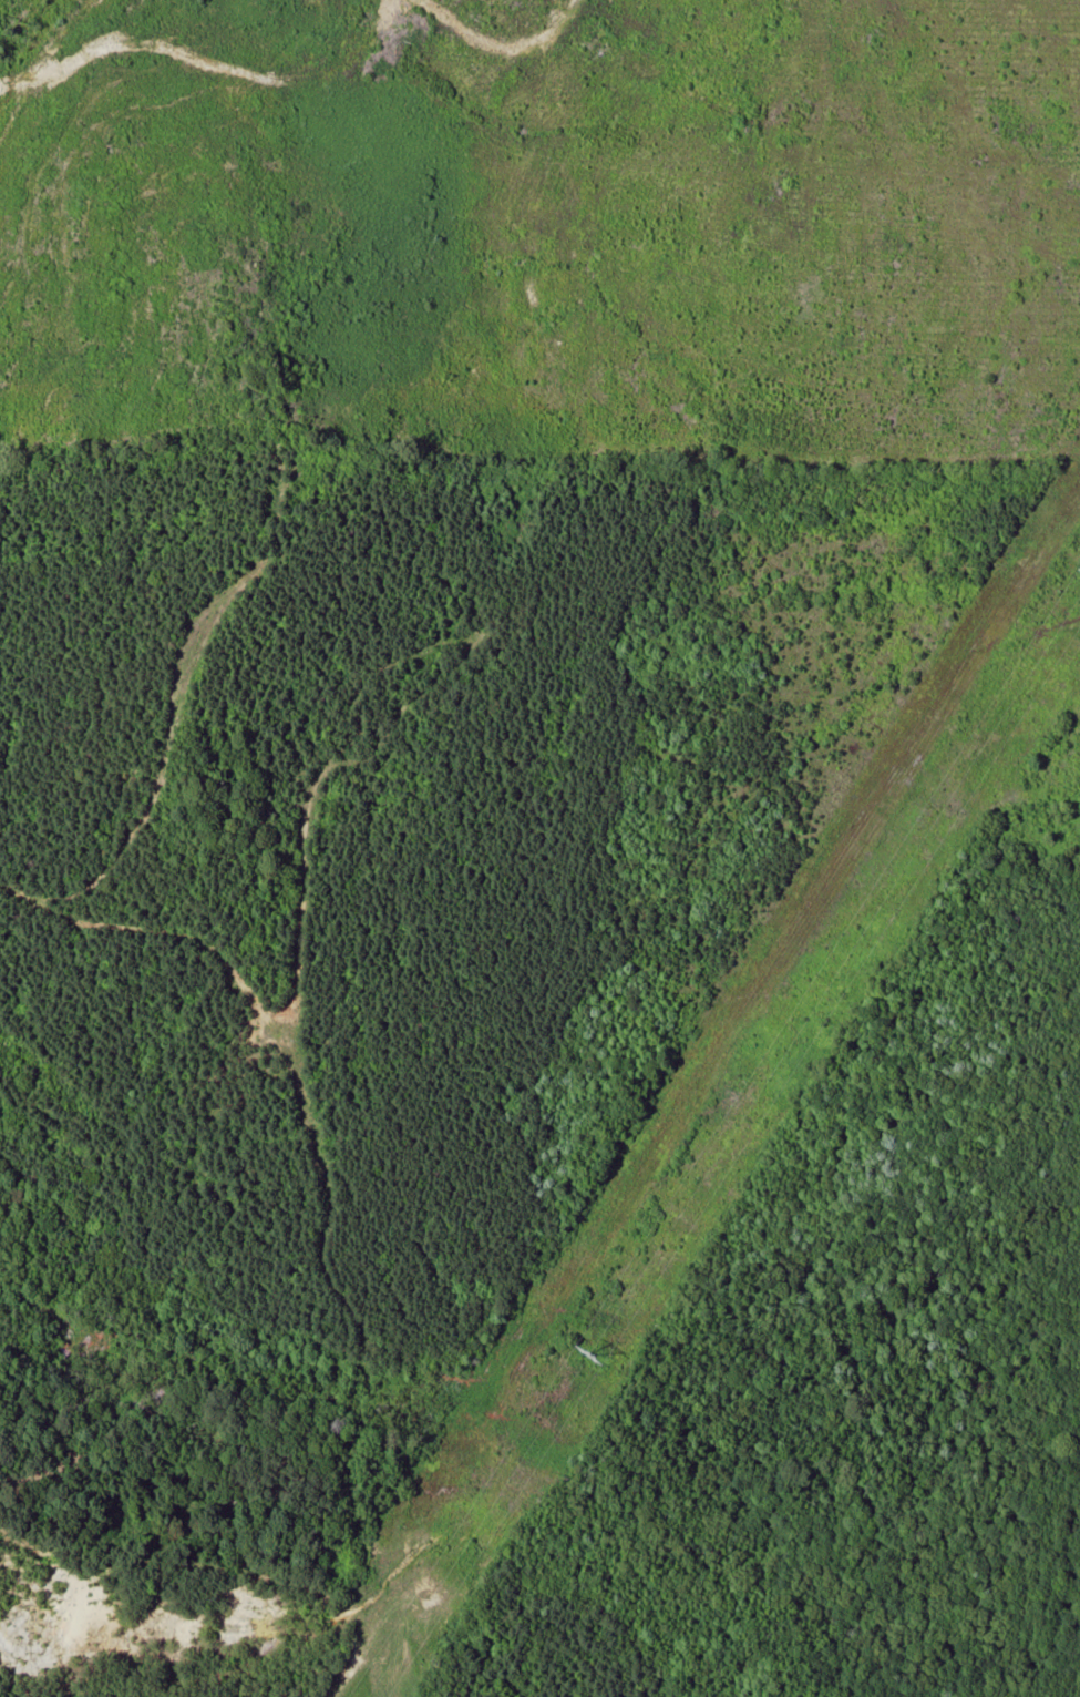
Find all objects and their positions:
power tower: (596, 1352)

